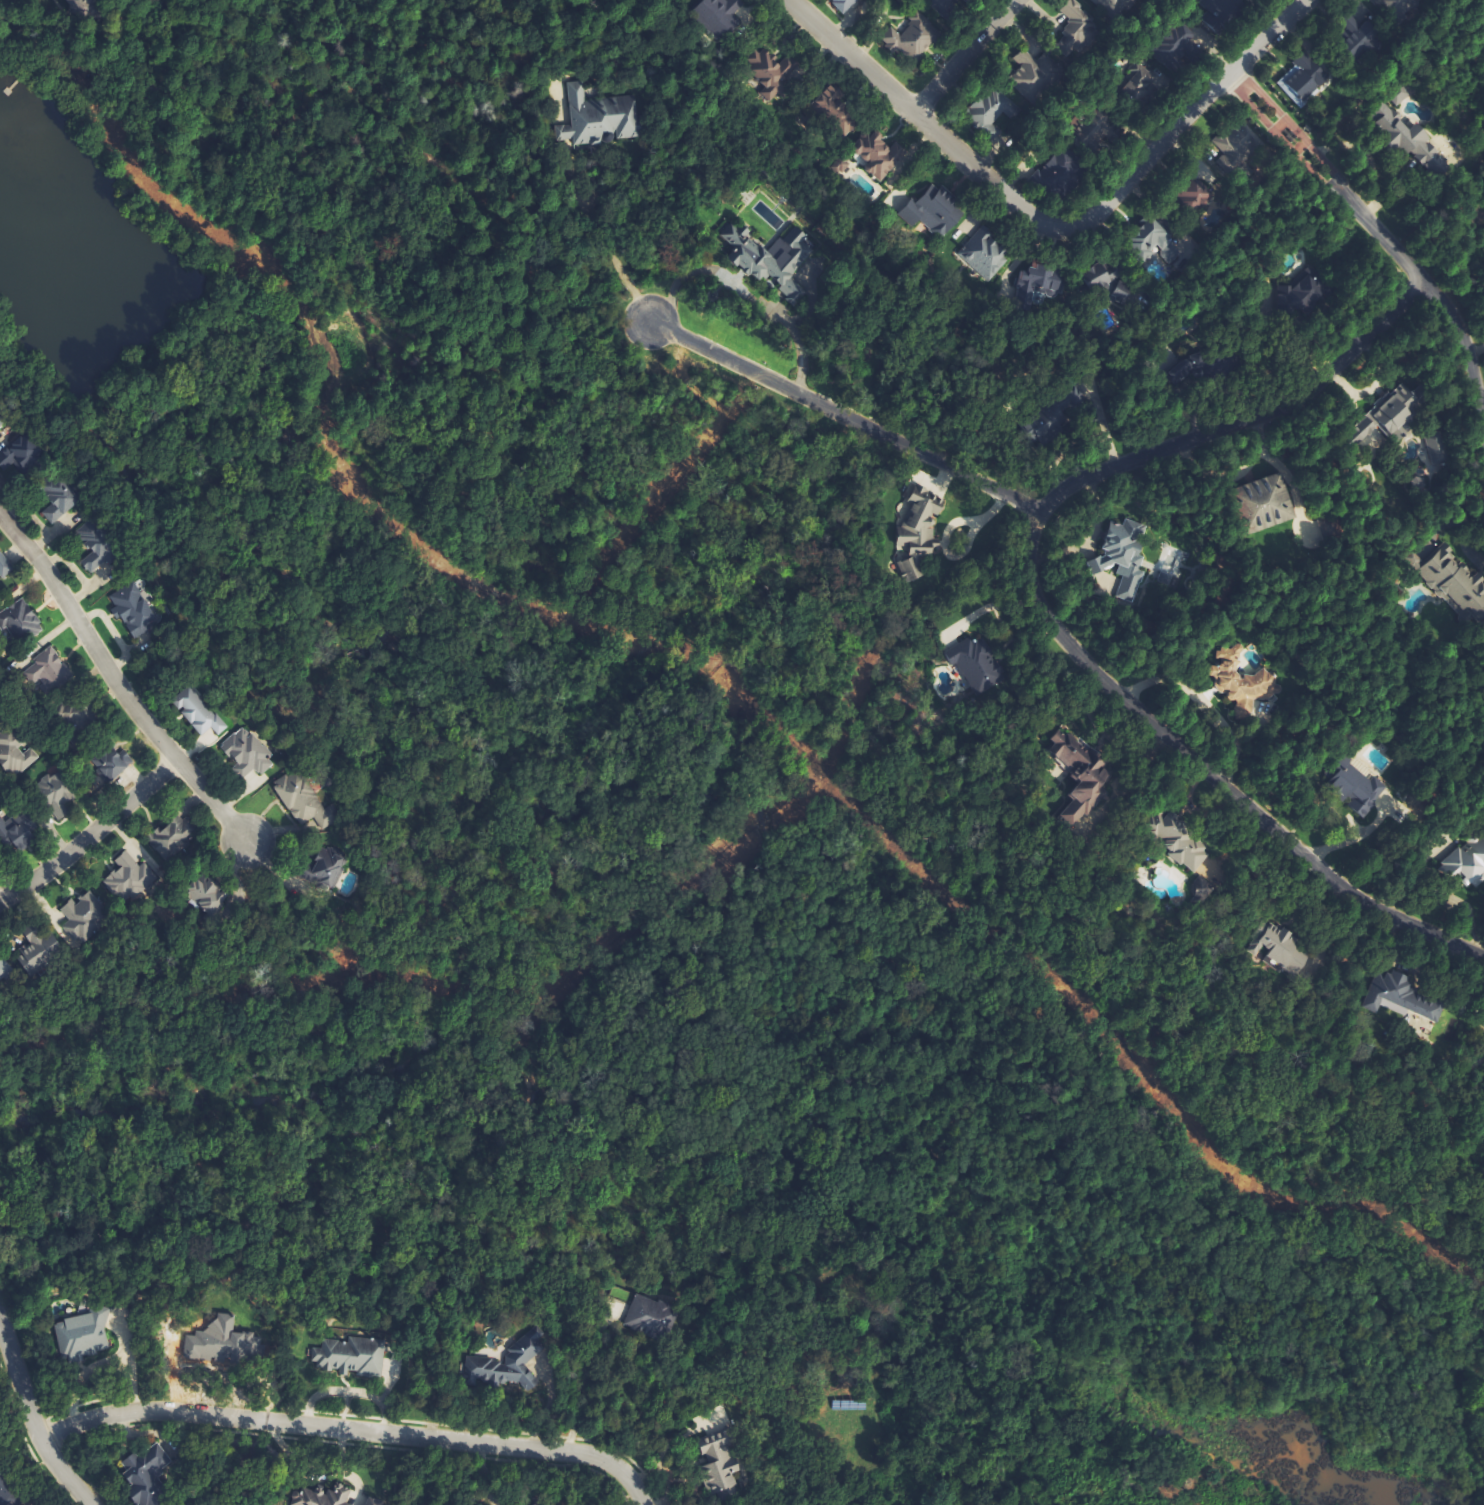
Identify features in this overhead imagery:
building: (846, 5)
building: (77, 8)
building: (1221, 13)
building: (719, 16)
building: (1368, 21)
building: (1074, 34)
building: (912, 38)
building: (1174, 47)
road: (962, 56)
building: (773, 75)
building: (1033, 79)
building: (1303, 80)
building: (1401, 97)
building: (835, 109)
building: (990, 111)
building: (595, 117)
building: (1407, 137)
building: (1236, 146)
building: (877, 154)
road: (1326, 179)
building: (1195, 192)
road: (1048, 226)
building: (1157, 239)
road: (610, 254)
building: (984, 254)
building: (775, 258)
building: (1109, 284)
building: (1038, 286)
building: (1306, 294)
road: (1464, 343)
building: (3, 415)
building: (1387, 417)
road: (844, 419)
building: (1051, 431)
building: (1439, 448)
building: (22, 454)
building: (59, 502)
building: (1264, 504)
building: (918, 534)
building: (96, 546)
building: (1124, 558)
building: (4, 566)
building: (1453, 583)
building: (134, 610)
road: (1047, 613)
building: (20, 622)
building: (976, 663)
building: (47, 671)
road: (118, 681)
building: (197, 712)
building: (248, 754)
building: (14, 755)
building: (111, 765)
building: (1082, 775)
building: (1355, 788)
building: (57, 794)
building: (304, 802)
building: (17, 833)
road: (92, 834)
building: (173, 839)
building: (1177, 841)
building: (1466, 865)
building: (325, 871)
building: (131, 879)
building: (205, 897)
building: (80, 917)
building: (1279, 948)
building: (39, 952)
building: (3, 968)
building: (1400, 999)
building: (653, 1316)
building: (84, 1336)
building: (351, 1356)
building: (506, 1365)
road: (594, 1381)
road: (28, 1423)
road: (348, 1430)
building: (720, 1462)
building: (147, 1475)
building: (6, 1493)
building: (324, 1496)
building: (373, 1502)
building: (192, 1504)
building: (537, 1504)

